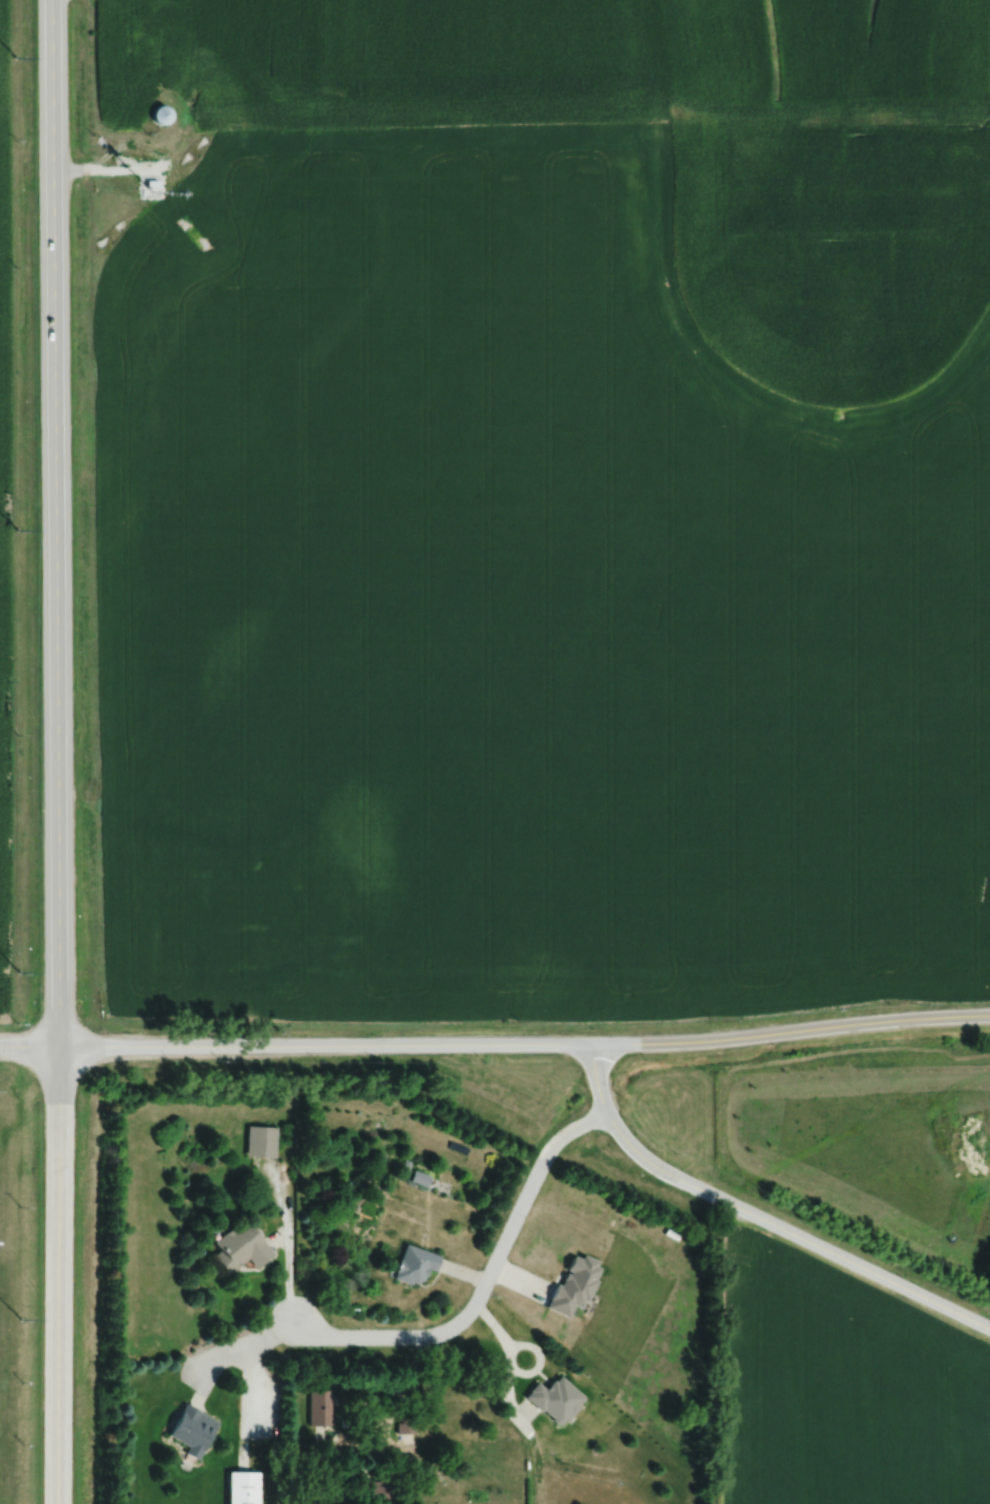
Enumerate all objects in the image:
power tower: (15, 59)
building: (161, 114)
silo: (161, 114)
road: (111, 168)
building: (151, 183)
power tower: (17, 530)
road: (56, 751)
power tower: (19, 972)
road: (495, 1046)
building: (257, 1142)
building: (417, 1178)
road: (758, 1218)
building: (235, 1247)
building: (411, 1265)
road: (481, 1281)
building: (570, 1285)
power tower: (18, 1320)
road: (229, 1345)
road: (251, 1382)
road: (401, 1387)
building: (551, 1399)
building: (315, 1408)
building: (403, 1425)
building: (188, 1431)
building: (239, 1488)
building: (379, 1492)

